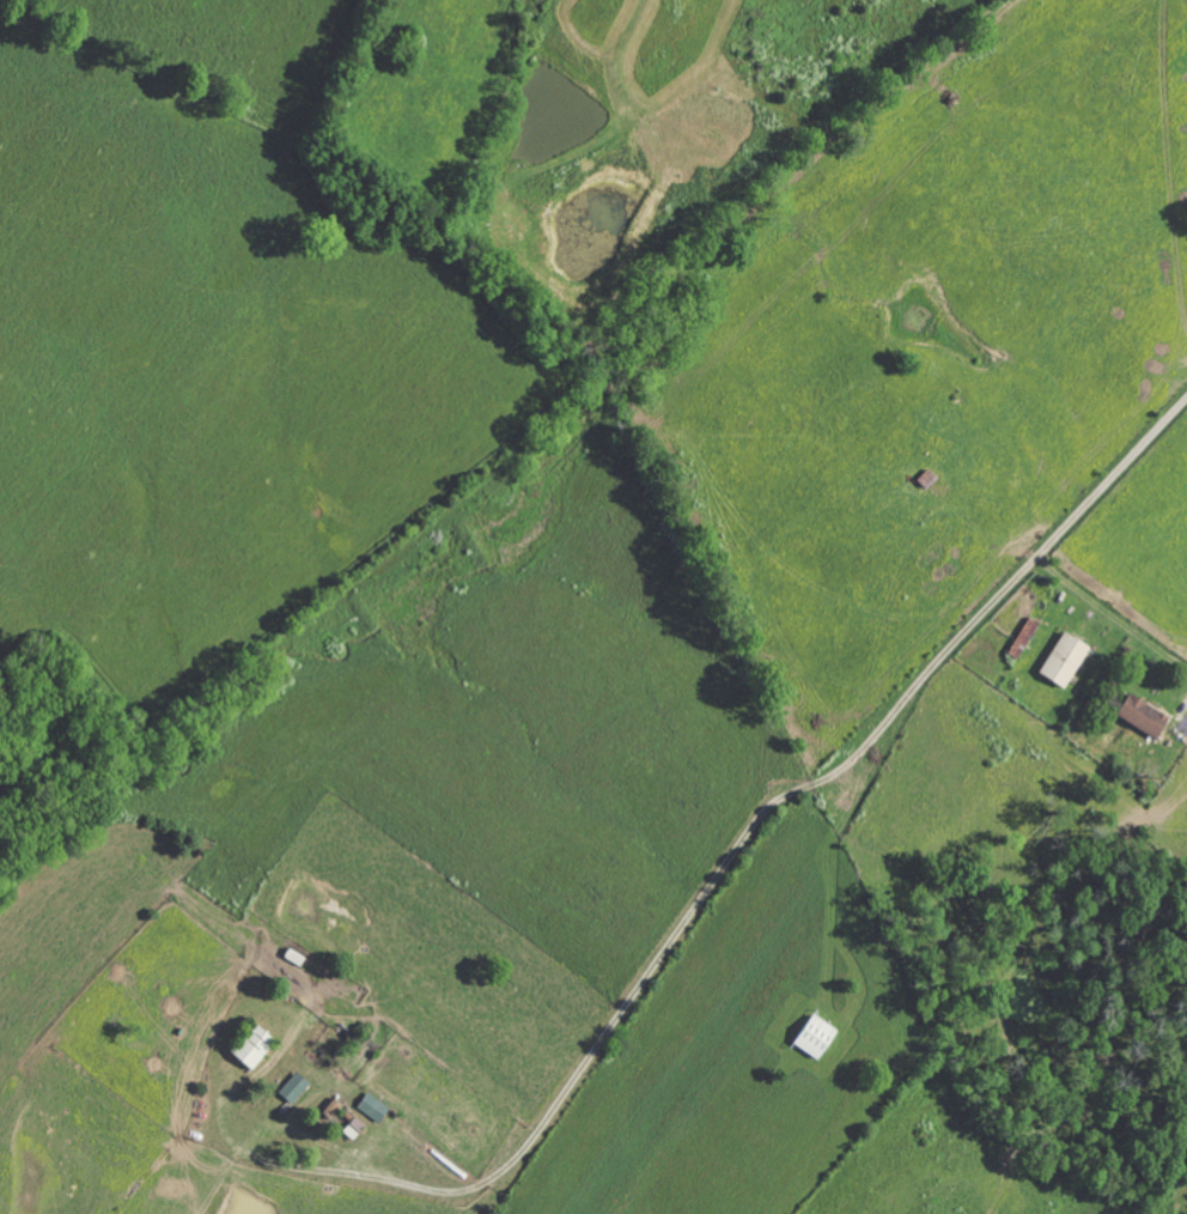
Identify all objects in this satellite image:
building: (1021, 639)
building: (1060, 661)
building: (1138, 716)
road: (732, 854)
building: (248, 1049)
building: (292, 1089)
building: (371, 1109)
building: (328, 1110)
building: (352, 1129)

